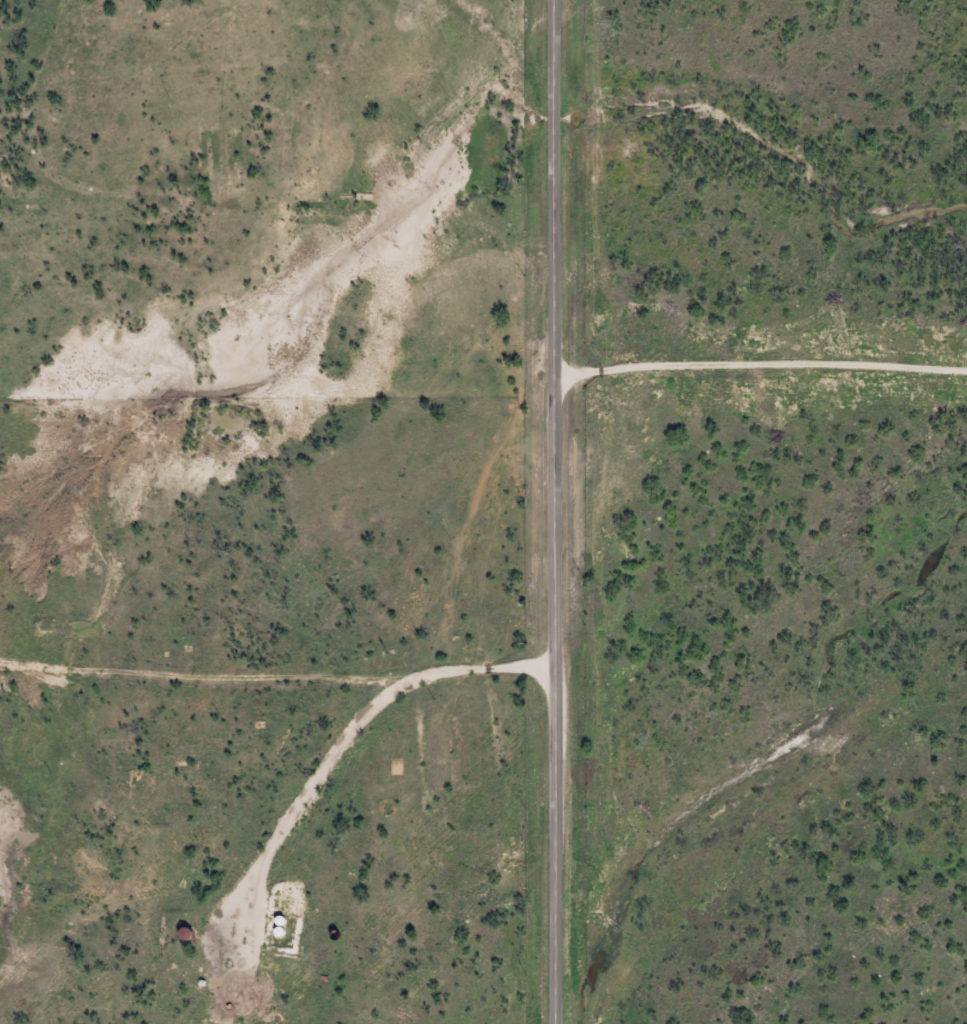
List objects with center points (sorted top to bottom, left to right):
road: (762, 389)
road: (557, 512)
road: (278, 676)
building: (180, 934)
building: (269, 1018)

